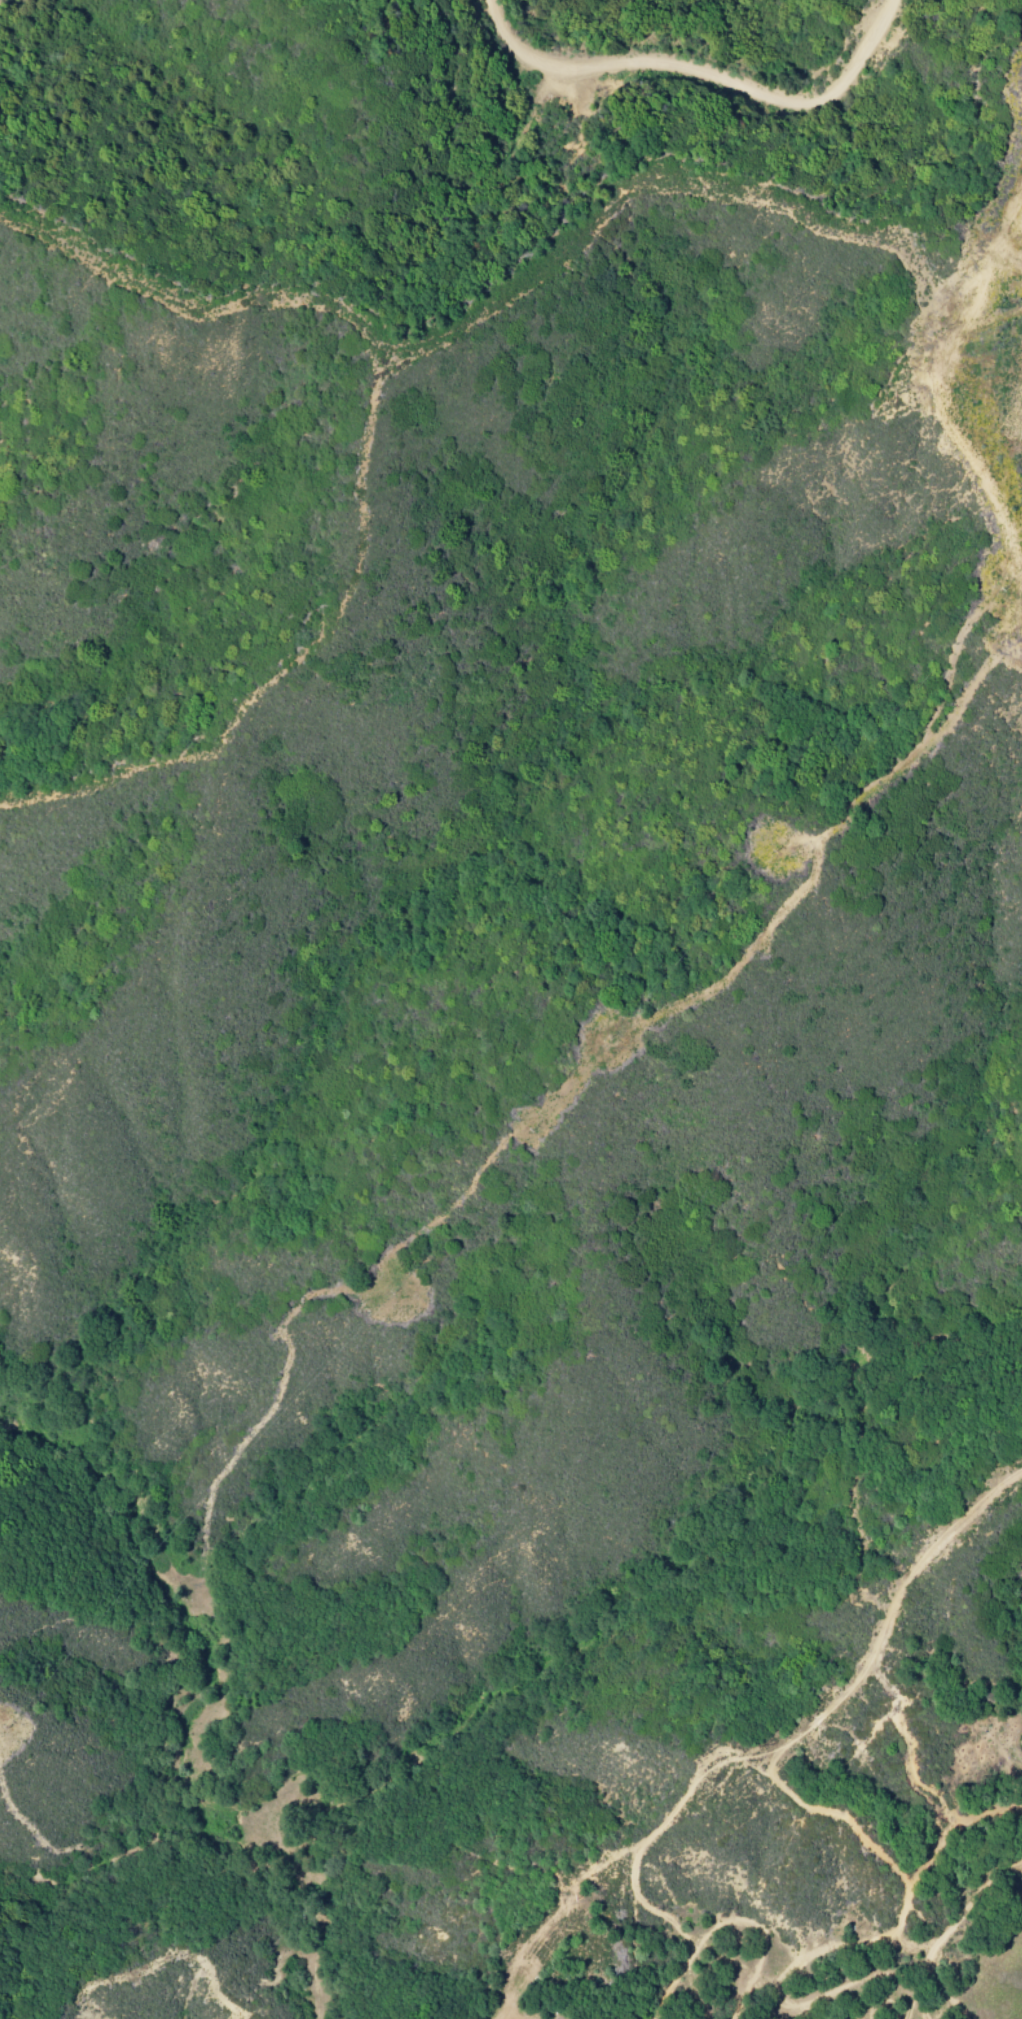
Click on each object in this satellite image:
road: (701, 76)
road: (1009, 219)
road: (583, 230)
road: (953, 433)
road: (1019, 620)
road: (1002, 642)
road: (847, 800)
road: (804, 836)
road: (844, 1696)

